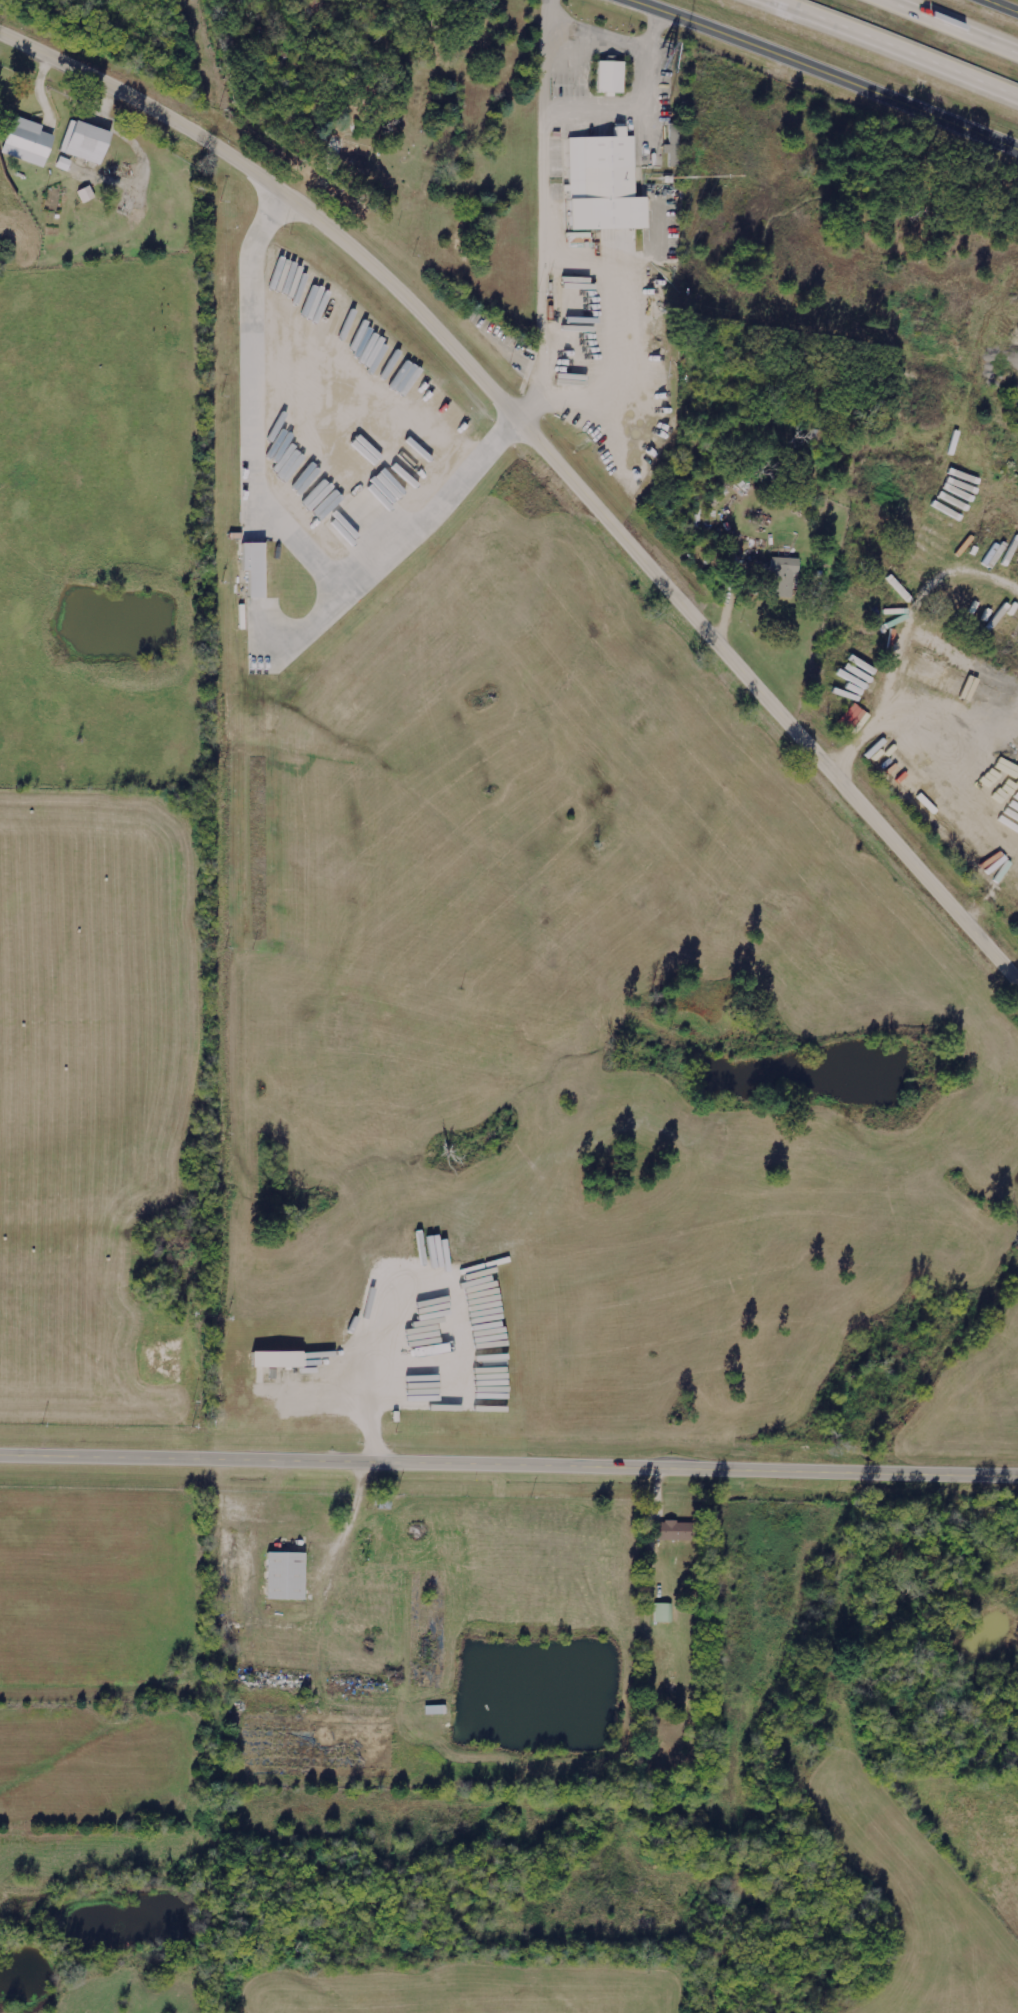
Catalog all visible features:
road: (1002, 6)
road: (552, 21)
road: (956, 23)
road: (901, 45)
road: (828, 70)
building: (612, 77)
road: (632, 108)
building: (29, 142)
building: (87, 142)
building: (676, 146)
building: (347, 157)
building: (606, 184)
building: (87, 195)
road: (550, 459)
building: (256, 569)
building: (785, 577)
building: (279, 1360)
road: (509, 1467)
building: (676, 1531)
building: (287, 1576)
building: (664, 1613)

